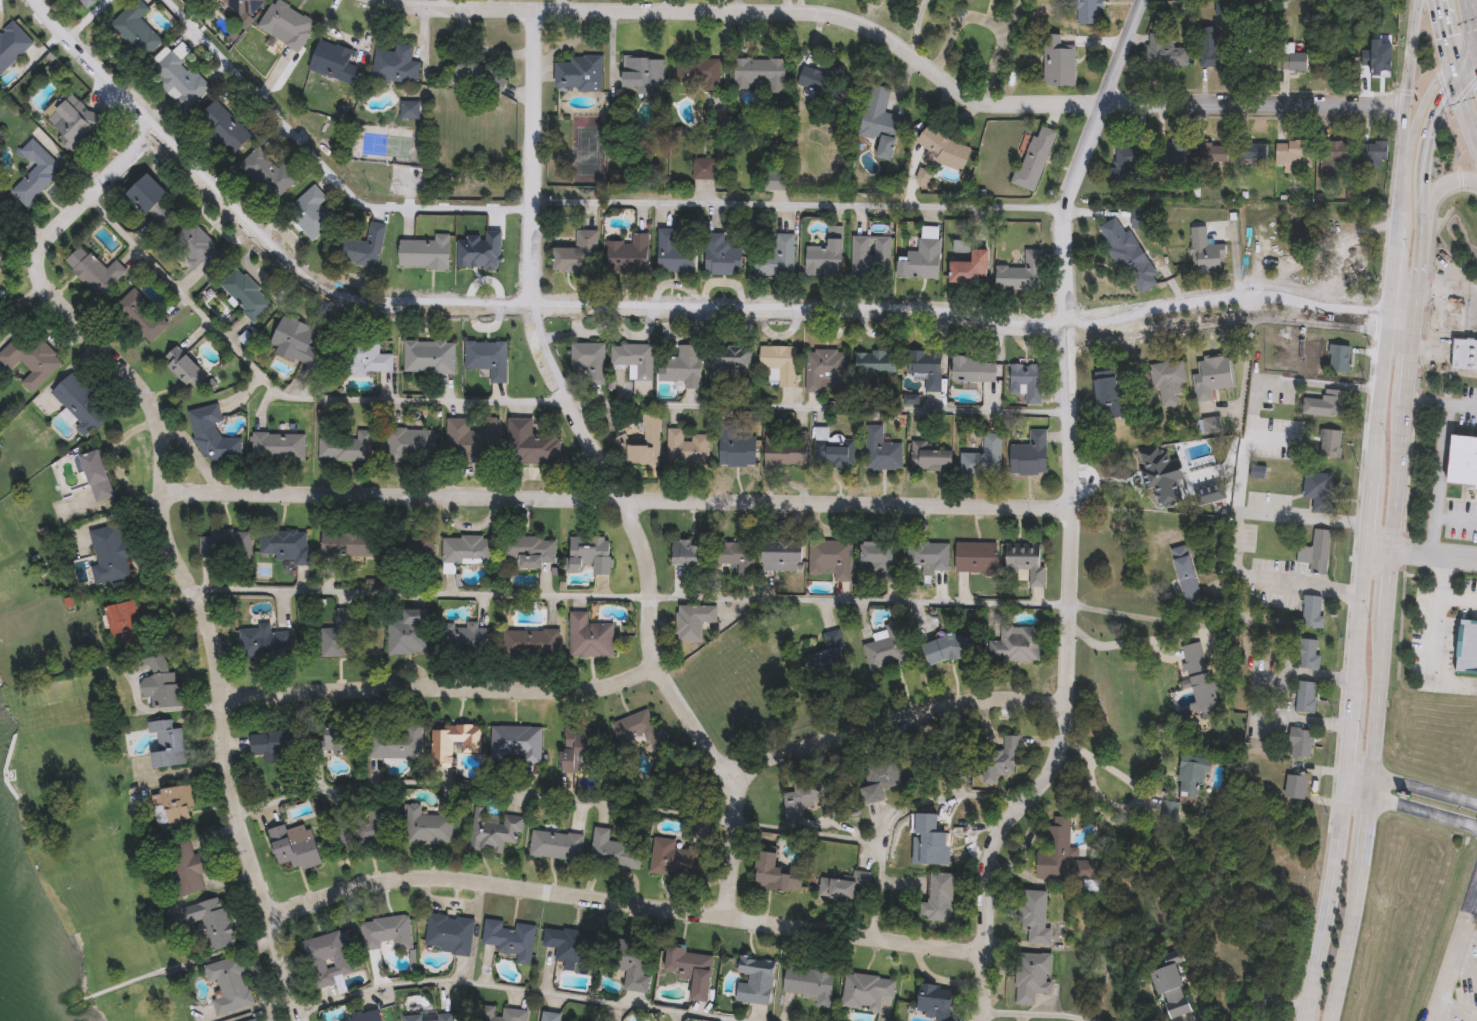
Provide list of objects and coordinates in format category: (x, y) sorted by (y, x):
building: (913, 0)
building: (87, 2)
road: (1472, 2)
road: (1436, 3)
building: (243, 6)
building: (1088, 12)
road: (84, 18)
road: (1472, 21)
road: (986, 22)
building: (287, 24)
building: (135, 29)
road: (1444, 37)
road: (897, 43)
building: (12, 44)
building: (1212, 50)
building: (1167, 53)
road: (1464, 57)
building: (1295, 60)
building: (333, 62)
building: (1262, 62)
building: (1058, 63)
road: (1466, 64)
building: (395, 65)
road: (92, 67)
traffic signals: (1452, 68)
building: (696, 71)
building: (757, 72)
building: (579, 74)
building: (643, 74)
road: (1453, 74)
building: (479, 78)
building: (178, 79)
traffic signals: (1455, 80)
road: (1437, 81)
road: (1405, 90)
road: (1441, 104)
road: (1465, 112)
building: (879, 122)
building: (74, 124)
building: (223, 128)
building: (944, 149)
building: (1255, 152)
building: (1216, 155)
building: (1292, 155)
building: (1375, 155)
building: (1336, 157)
building: (1035, 158)
building: (1130, 166)
road: (322, 167)
building: (704, 169)
building: (266, 172)
building: (35, 173)
road: (1423, 174)
building: (775, 184)
road: (1440, 185)
building: (152, 199)
road: (801, 205)
building: (310, 213)
building: (363, 248)
building: (198, 249)
building: (424, 253)
building: (673, 253)
building: (1350, 253)
building: (577, 254)
building: (629, 254)
building: (774, 255)
building: (871, 255)
building: (1208, 255)
building: (722, 256)
building: (1130, 257)
building: (824, 259)
building: (921, 261)
road: (1418, 265)
building: (970, 269)
building: (94, 270)
building: (1022, 273)
building: (245, 294)
road: (1240, 295)
building: (1454, 295)
road: (1445, 302)
road: (579, 305)
building: (141, 316)
road: (1238, 319)
road: (1412, 320)
building: (295, 341)
building: (1463, 352)
building: (428, 357)
building: (30, 358)
building: (369, 358)
building: (487, 358)
building: (729, 358)
building: (1340, 359)
building: (589, 360)
building: (779, 363)
building: (875, 363)
building: (636, 366)
building: (683, 367)
road: (1408, 368)
building: (185, 369)
building: (926, 369)
building: (824, 370)
building: (974, 371)
building: (1214, 378)
building: (1171, 382)
building: (1027, 383)
road: (537, 398)
building: (1113, 399)
road: (1441, 403)
building: (1327, 404)
building: (80, 405)
building: (212, 436)
building: (466, 442)
building: (646, 443)
building: (531, 444)
building: (408, 445)
building: (1330, 445)
building: (279, 447)
building: (346, 448)
building: (687, 448)
building: (736, 449)
building: (785, 449)
building: (881, 451)
building: (835, 454)
building: (1030, 456)
building: (930, 457)
building: (984, 457)
building: (1464, 463)
road: (611, 472)
road: (1243, 475)
road: (1397, 475)
building: (96, 476)
road: (1431, 476)
building: (1163, 477)
building: (1319, 491)
road: (617, 498)
road: (1070, 515)
road: (1304, 516)
road: (1451, 521)
road: (171, 536)
road: (1379, 543)
building: (376, 544)
building: (283, 545)
building: (225, 546)
road: (1223, 546)
building: (467, 549)
building: (524, 550)
building: (1317, 552)
road: (1434, 552)
building: (108, 553)
building: (687, 554)
building: (928, 554)
building: (588, 555)
building: (780, 556)
building: (879, 556)
building: (975, 556)
building: (734, 557)
building: (829, 557)
road: (1365, 559)
building: (1025, 561)
building: (447, 569)
building: (450, 571)
building: (1187, 573)
road: (1388, 580)
road: (1444, 590)
road: (632, 595)
building: (1313, 611)
building: (691, 620)
building: (126, 623)
building: (407, 631)
building: (463, 636)
building: (589, 636)
building: (334, 640)
building: (263, 641)
building: (529, 641)
building: (1015, 643)
building: (885, 646)
building: (948, 646)
building: (1467, 648)
road: (1114, 650)
building: (1309, 653)
building: (828, 654)
road: (1430, 655)
building: (1202, 678)
building: (159, 680)
road: (440, 690)
road: (1377, 695)
road: (1263, 696)
building: (1306, 696)
road: (893, 718)
building: (638, 729)
building: (272, 740)
building: (453, 741)
building: (515, 742)
building: (1301, 742)
building: (164, 743)
building: (333, 743)
building: (388, 743)
building: (578, 744)
building: (1000, 761)
road: (1101, 773)
road: (1358, 775)
building: (878, 777)
building: (1194, 777)
building: (1297, 786)
road: (1368, 787)
road: (1423, 788)
building: (807, 794)
road: (945, 796)
road: (1356, 797)
building: (173, 802)
road: (606, 804)
road: (1423, 810)
building: (426, 825)
building: (359, 826)
road: (1364, 828)
building: (493, 830)
building: (931, 834)
building: (555, 844)
building: (292, 846)
building: (1055, 847)
building: (613, 850)
building: (675, 857)
building: (187, 867)
building: (774, 873)
road: (1476, 895)
building: (937, 897)
road: (622, 900)
building: (1034, 915)
building: (211, 921)
building: (386, 931)
road: (1470, 931)
building: (448, 933)
building: (509, 937)
road: (1344, 939)
building: (568, 943)
road: (1454, 955)
building: (327, 959)
building: (625, 961)
building: (690, 969)
road: (1464, 971)
building: (1030, 975)
building: (754, 979)
building: (808, 981)
building: (229, 984)
building: (865, 989)
road: (525, 991)
building: (1174, 991)
building: (934, 1000)
road: (1458, 1005)
road: (1033, 1011)
building: (499, 1013)
building: (549, 1015)
building: (362, 1017)
building: (428, 1017)
building: (254, 1019)
building: (260, 1020)

